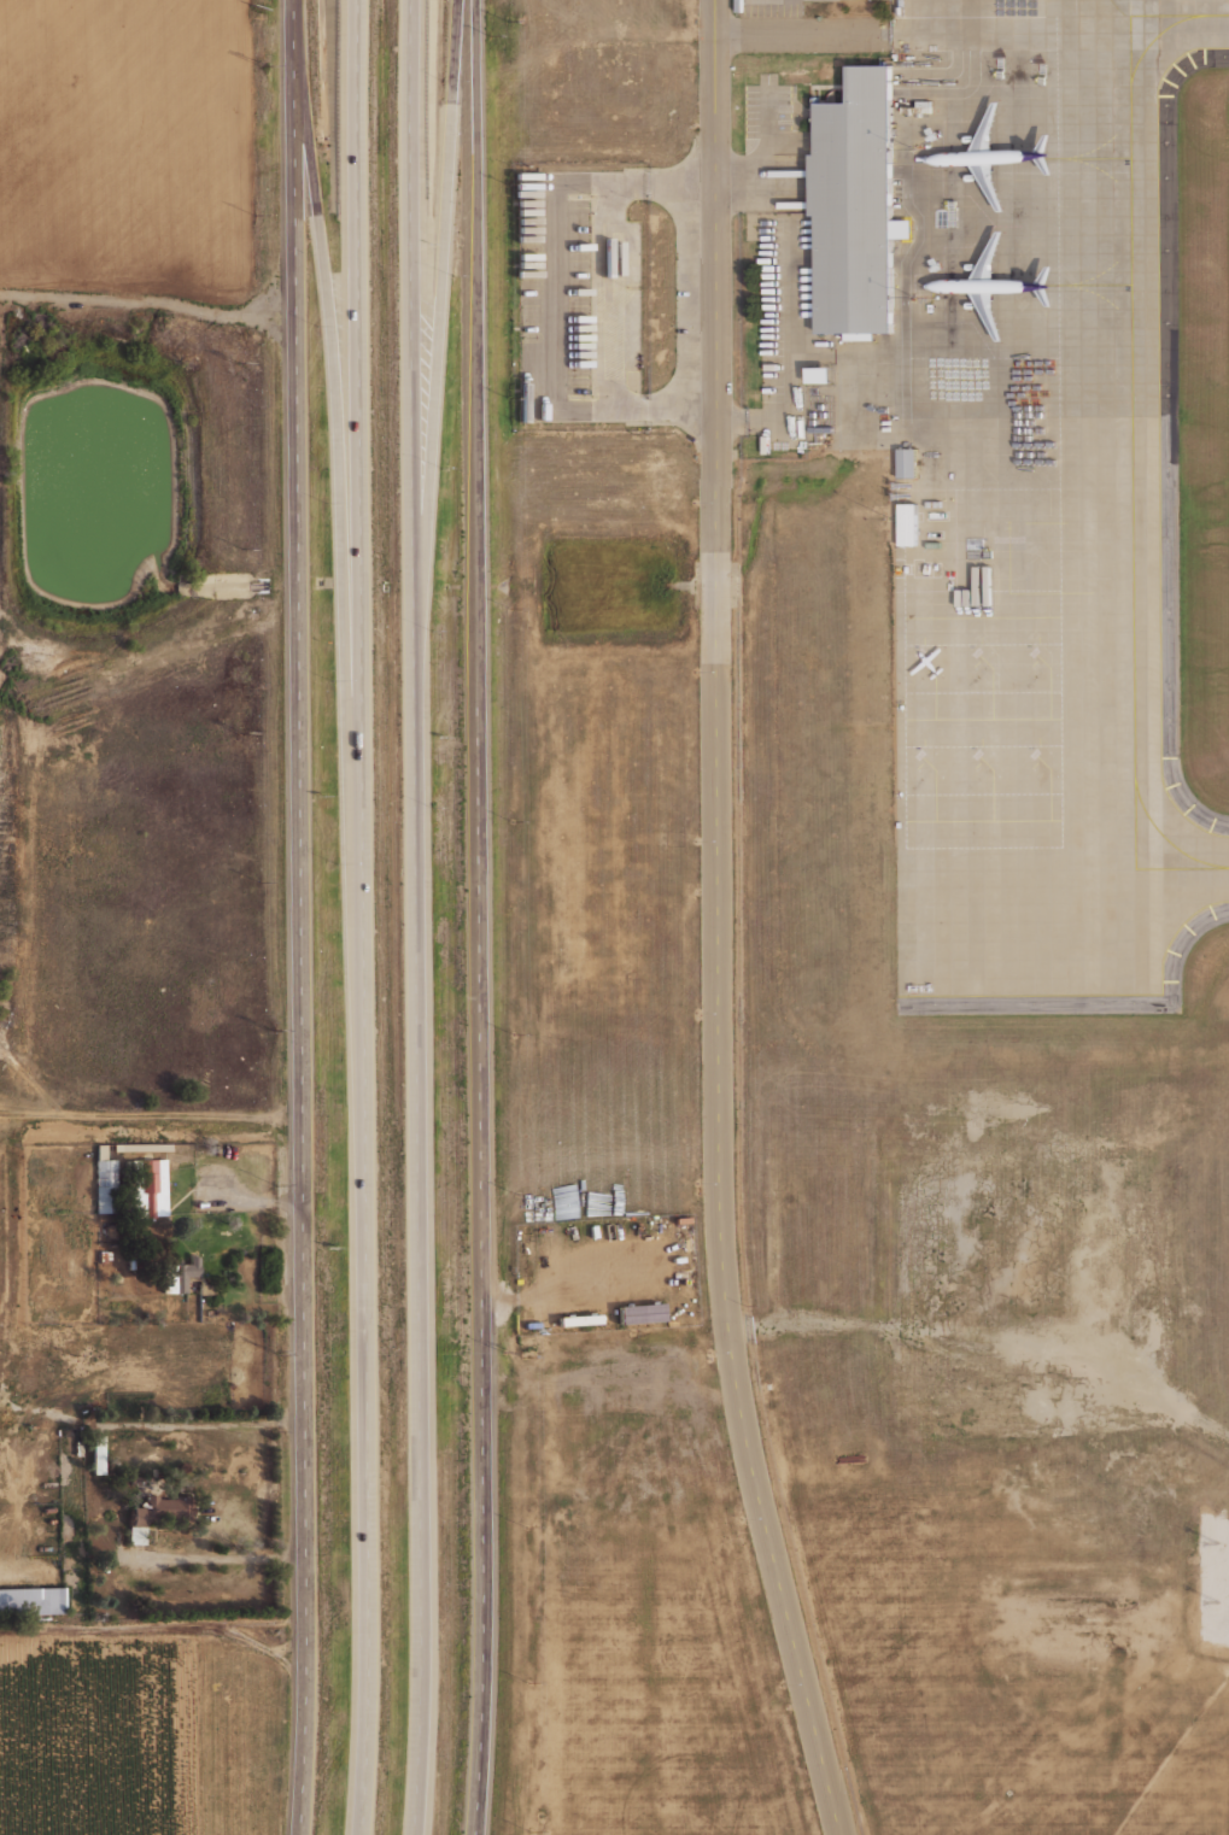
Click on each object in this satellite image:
airport taxiway: (1192, 14)
airport taxiway: (1129, 19)
road: (802, 31)
road: (766, 134)
airport taxiway: (1125, 141)
road: (680, 182)
road: (739, 182)
building: (858, 207)
road: (555, 294)
road: (151, 300)
road: (789, 335)
road: (437, 339)
building: (818, 375)
road: (334, 405)
road: (680, 408)
road: (730, 423)
building: (906, 463)
airport taxiway: (1131, 489)
airport apron: (1025, 498)
building: (907, 524)
airport taxiway: (1031, 685)
airport taxiway: (1031, 792)
airport: (964, 845)
airport taxiway: (1194, 868)
road: (298, 917)
road: (361, 917)
road: (412, 917)
road: (479, 917)
road: (715, 924)
road: (150, 1113)
building: (103, 1185)
building: (146, 1189)
building: (107, 1230)
building: (183, 1273)
building: (637, 1314)
building: (574, 1320)
building: (529, 1324)
road: (738, 1329)
road: (999, 1347)
building: (93, 1454)
building: (134, 1481)
building: (171, 1505)
building: (131, 1517)
building: (134, 1535)
road: (217, 1556)
building: (29, 1601)
road: (153, 1630)
road: (186, 1731)

